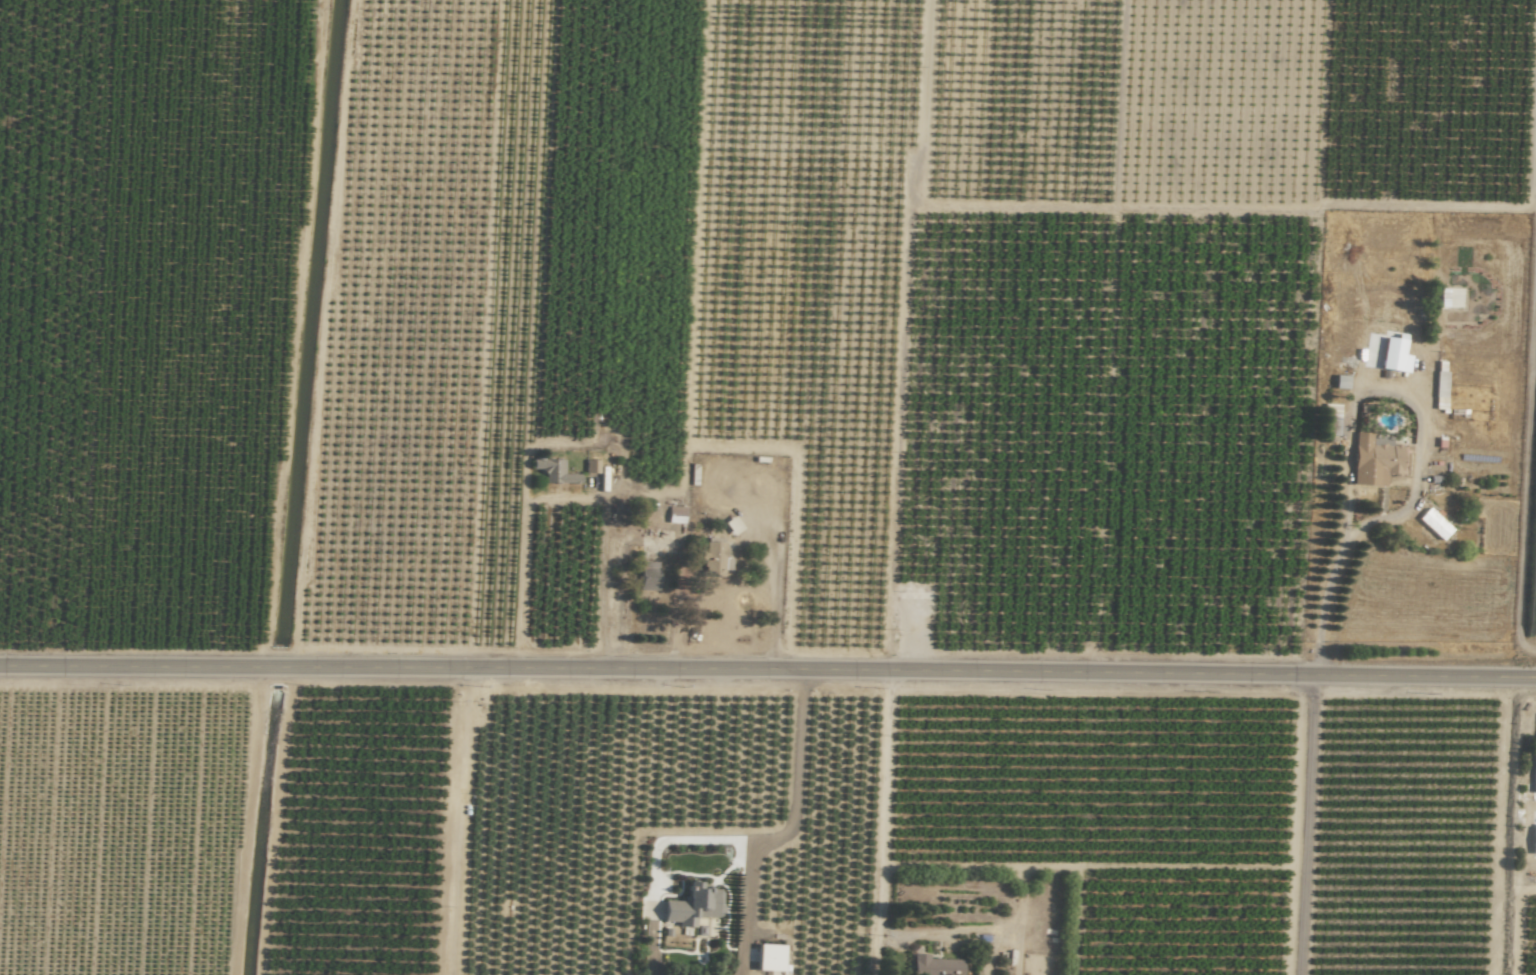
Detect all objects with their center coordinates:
road: (1533, 370)
building: (1342, 382)
building: (1387, 457)
building: (554, 471)
road: (1524, 485)
road: (565, 501)
road: (1345, 507)
building: (1435, 524)
road: (761, 548)
building: (650, 575)
road: (768, 670)
building: (1534, 770)
road: (879, 823)
road: (1301, 825)
road: (784, 831)
building: (1534, 841)
road: (979, 865)
building: (693, 905)
road: (969, 930)
building: (937, 966)

